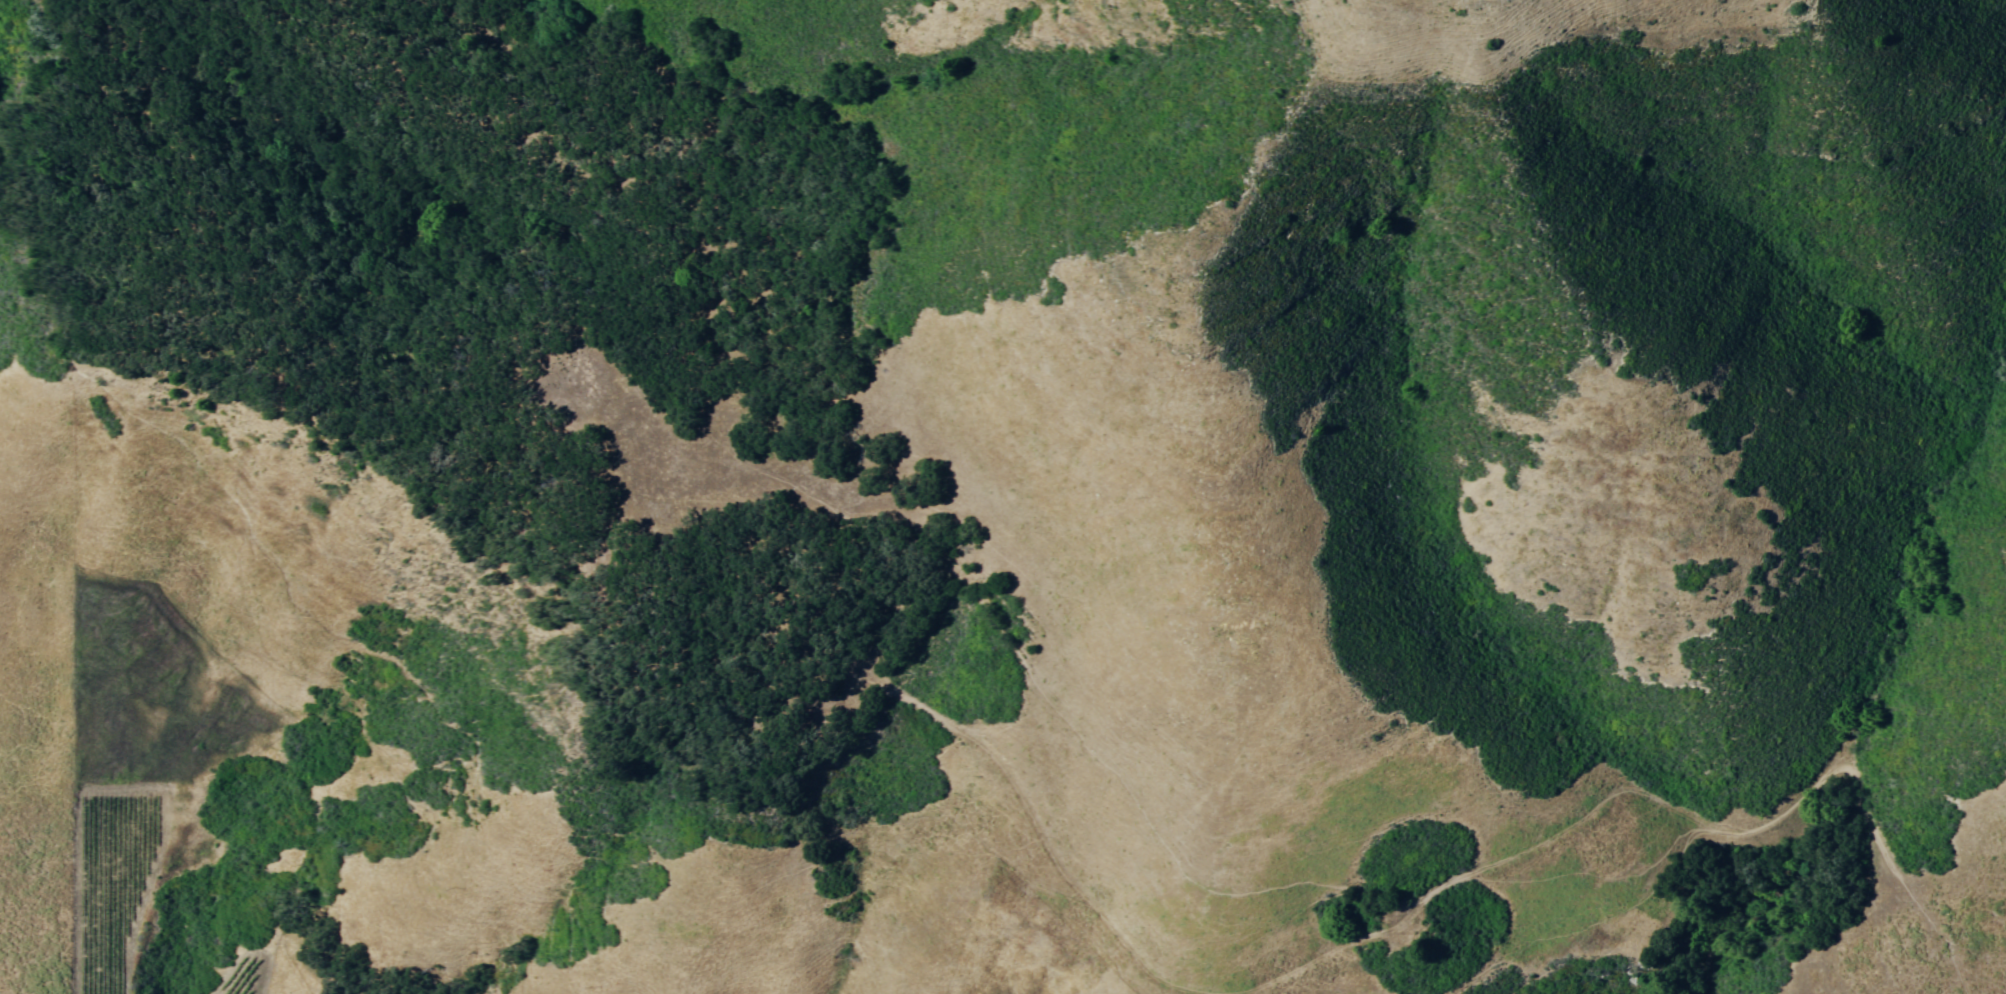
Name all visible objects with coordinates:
road: (1067, 870)

